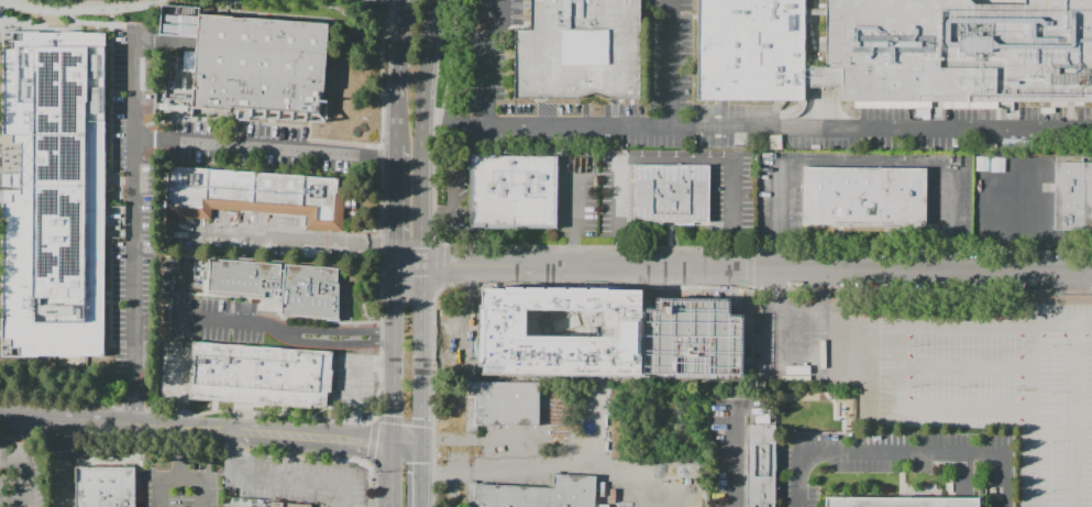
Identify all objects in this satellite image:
road: (84, 15)
building: (578, 49)
building: (750, 49)
building: (902, 49)
building: (1034, 52)
road: (488, 59)
road: (671, 63)
building: (266, 67)
road: (397, 71)
building: (823, 77)
road: (384, 78)
building: (172, 101)
road: (173, 118)
road: (565, 125)
road: (902, 126)
road: (420, 132)
road: (240, 136)
road: (308, 140)
parking lot: (239, 142)
road: (264, 148)
road: (677, 159)
building: (517, 192)
building: (54, 195)
building: (253, 195)
road: (394, 195)
building: (673, 195)
building: (864, 196)
building: (1073, 196)
road: (991, 198)
road: (779, 200)
road: (1046, 202)
road: (575, 214)
road: (1024, 222)
road: (135, 229)
parking lot: (257, 236)
road: (286, 236)
road: (407, 256)
road: (755, 269)
road: (203, 277)
building: (283, 285)
road: (420, 285)
road: (729, 288)
road: (219, 296)
road: (283, 297)
parking lot: (205, 308)
road: (658, 316)
road: (200, 319)
road: (332, 322)
road: (329, 331)
building: (515, 341)
road: (393, 343)
road: (327, 344)
road: (449, 344)
road: (420, 345)
road: (633, 361)
parking lot: (177, 371)
building: (265, 375)
parking lot: (353, 382)
road: (58, 390)
building: (509, 404)
road: (997, 404)
road: (129, 408)
road: (420, 414)
road: (188, 415)
road: (106, 419)
road: (326, 420)
road: (595, 427)
road: (301, 433)
road: (23, 438)
traffic signals: (391, 440)
road: (406, 440)
road: (574, 440)
traffic signals: (420, 441)
road: (231, 450)
road: (528, 452)
road: (901, 452)
road: (181, 453)
road: (419, 458)
road: (733, 458)
road: (11, 462)
road: (65, 462)
road: (898, 462)
road: (1074, 464)
building: (764, 466)
road: (610, 470)
road: (387, 473)
parking lot: (30, 477)
road: (289, 478)
road: (180, 480)
road: (23, 485)
building: (108, 487)
parking lot: (174, 488)
road: (419, 491)
building: (542, 494)
road: (346, 496)
building: (902, 503)
park: (242, 504)
building: (283, 505)
road: (419, 506)

